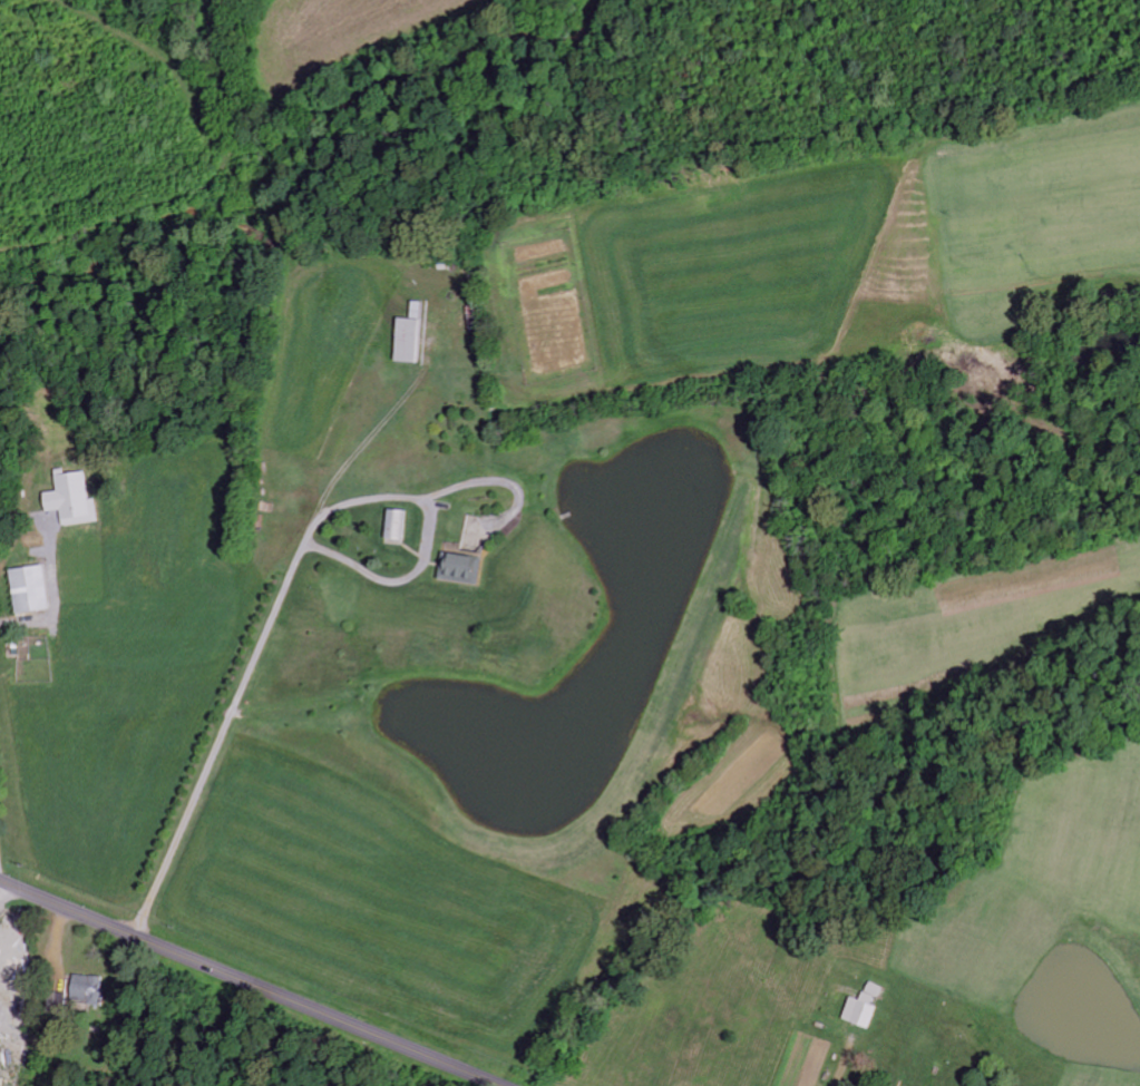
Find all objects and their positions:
building: (408, 337)
building: (74, 501)
building: (396, 527)
building: (462, 571)
building: (29, 590)
road: (254, 981)
building: (88, 990)
building: (863, 1008)

